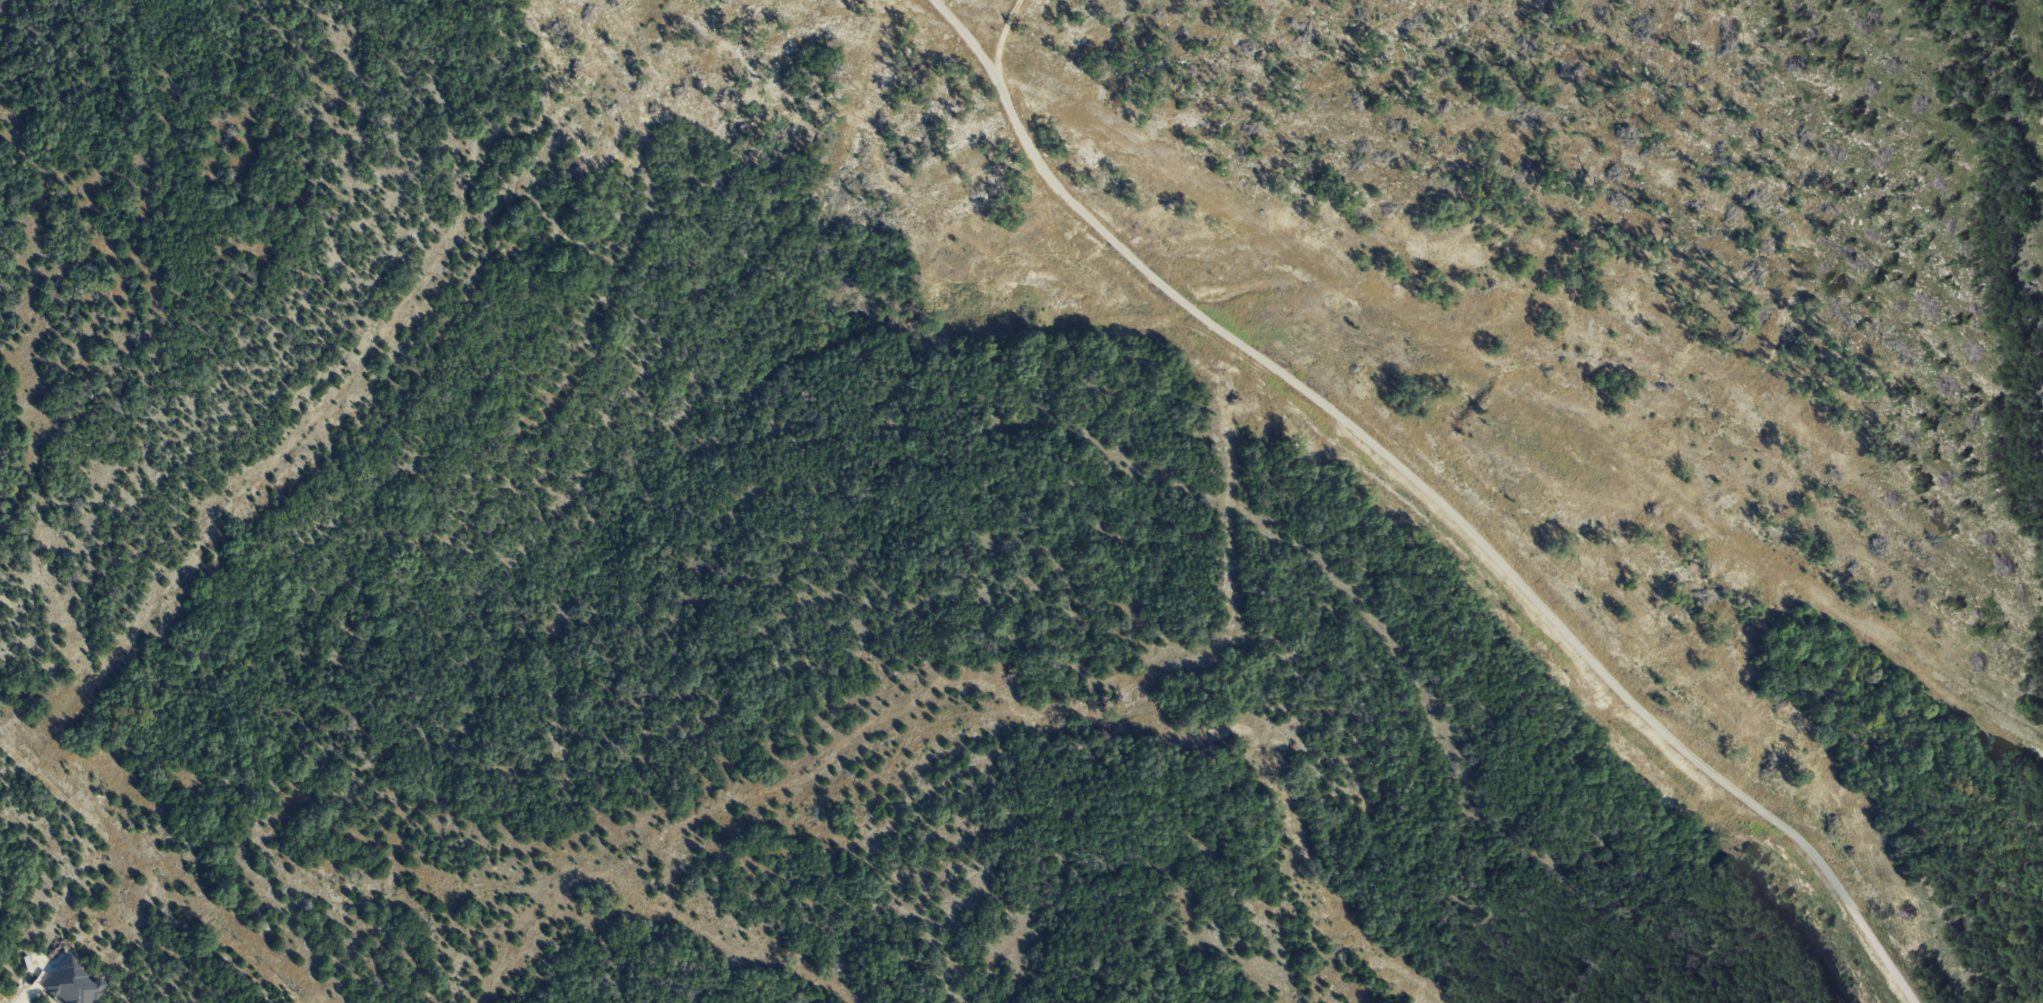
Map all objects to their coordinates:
road: (962, 33)
road: (1006, 33)
road: (1461, 524)

